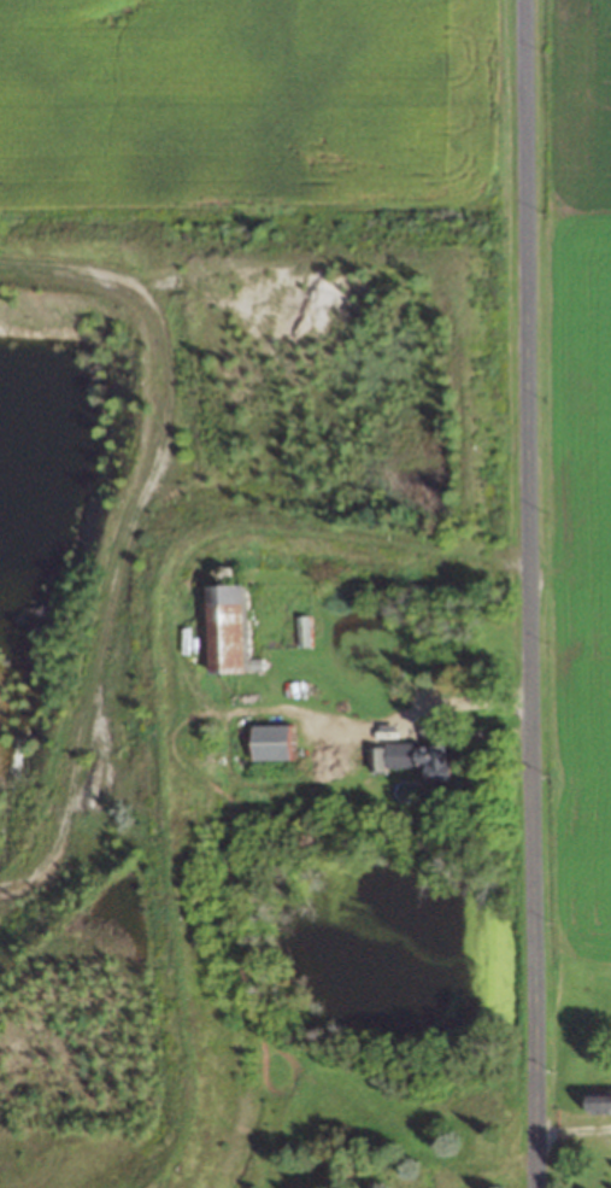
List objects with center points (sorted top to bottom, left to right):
road: (531, 593)
building: (221, 630)
quarry: (99, 692)
road: (411, 712)
building: (266, 743)
building: (411, 759)
building: (597, 1102)

